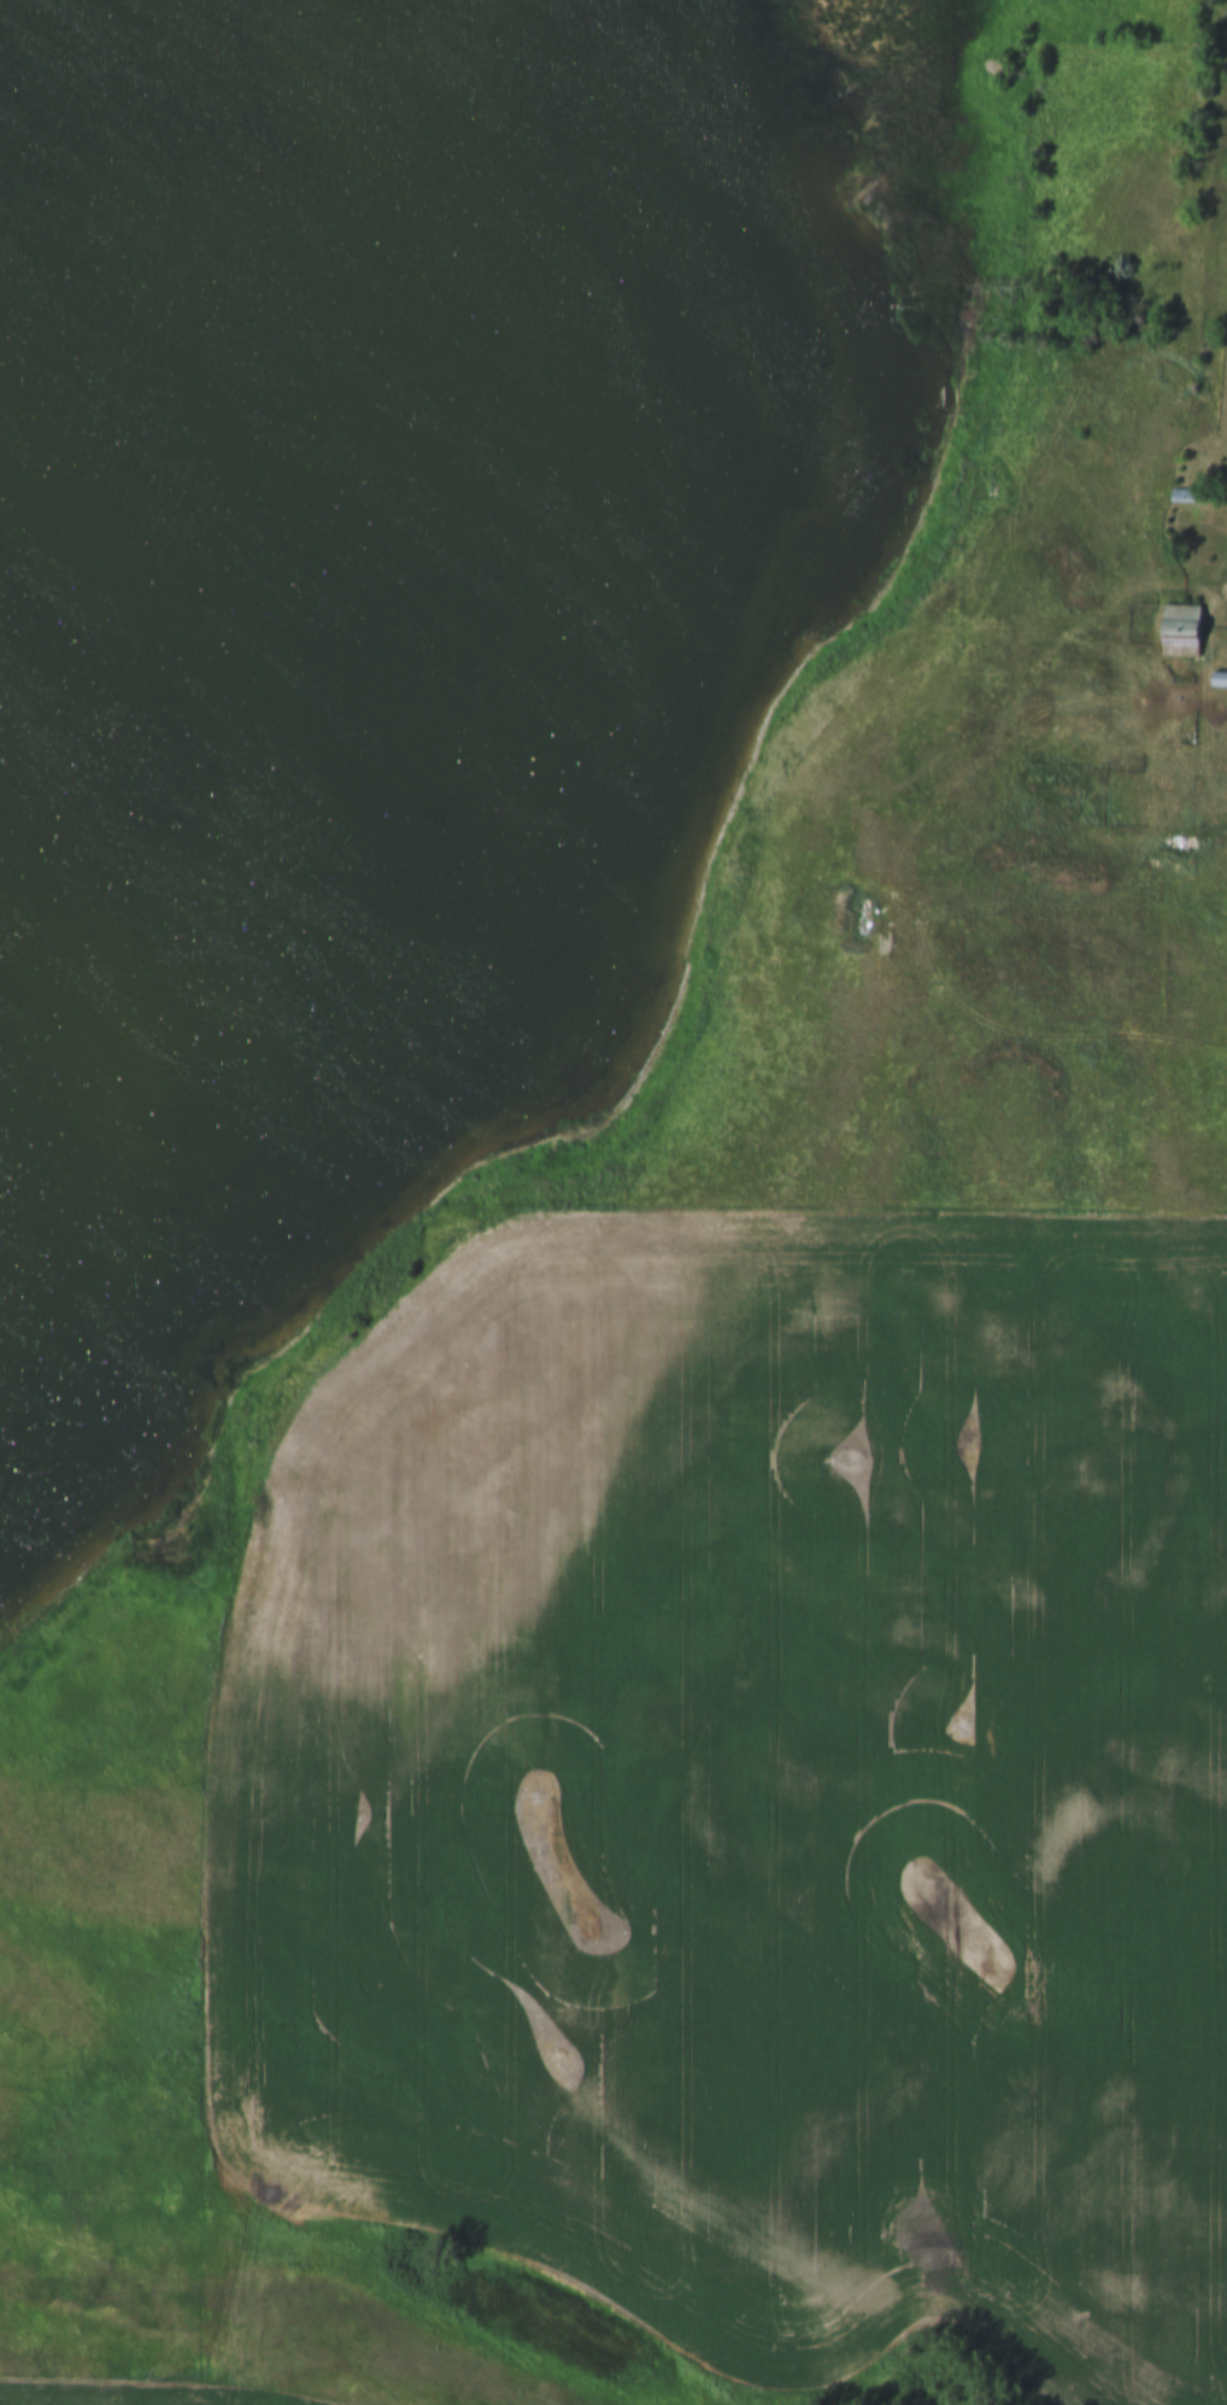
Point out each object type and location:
building: (979, 481)
building: (1184, 495)
road: (1225, 597)
building: (1182, 628)
building: (1220, 678)
building: (1079, 701)

